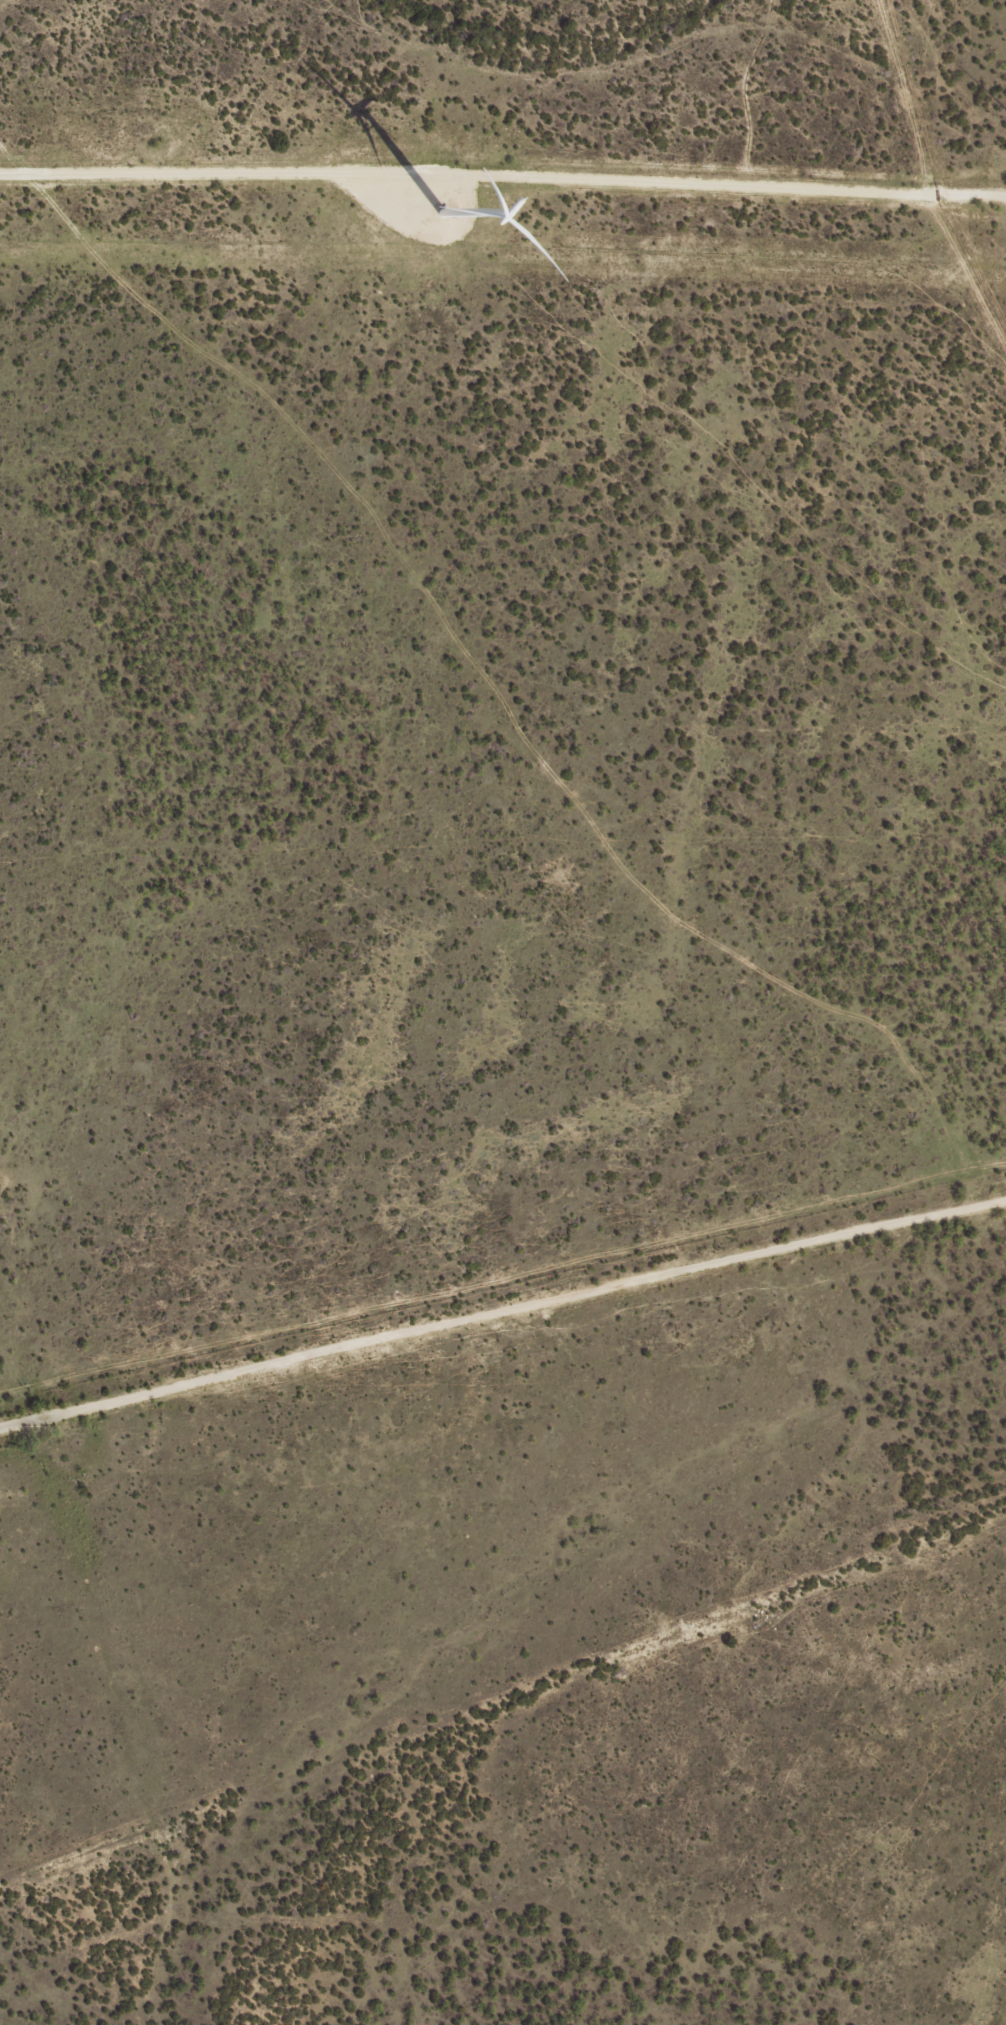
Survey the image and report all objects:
wind turbine: (441, 205)
road: (473, 721)
road: (502, 1333)

